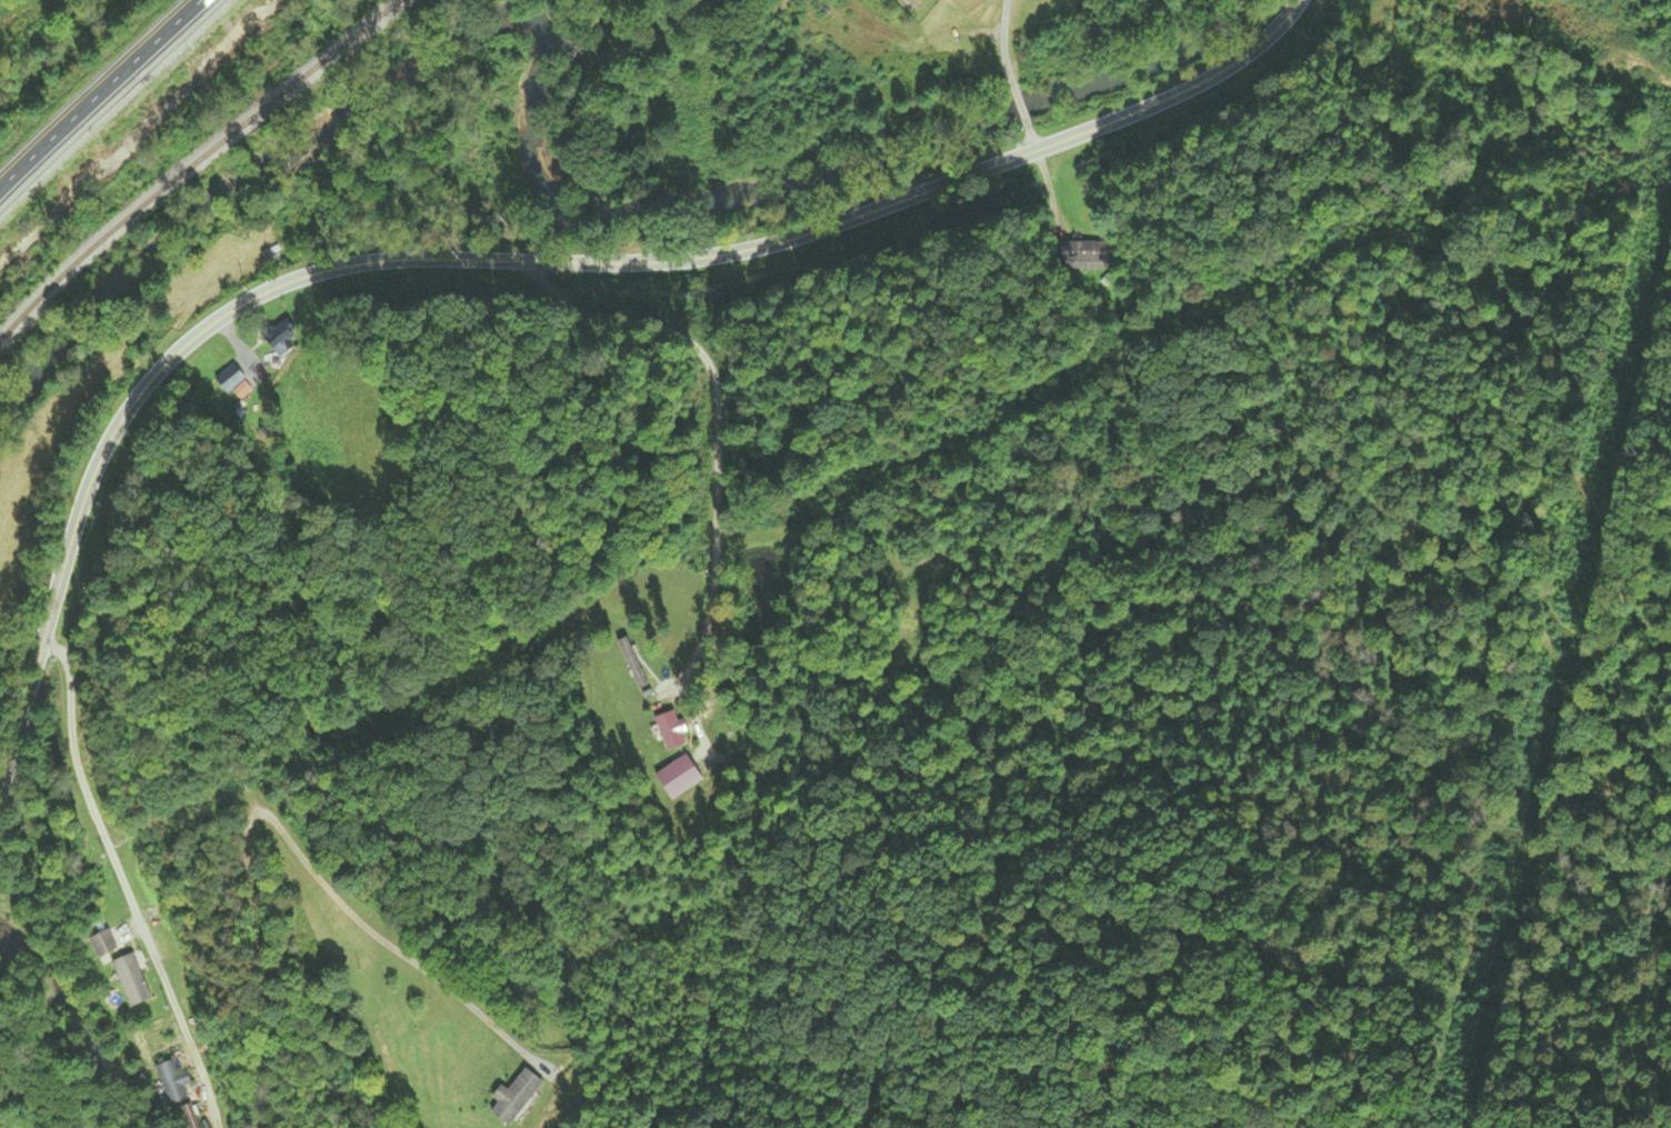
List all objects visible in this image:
road: (1013, 76)
road: (98, 92)
river: (540, 149)
railway: (199, 168)
building: (1091, 256)
road: (590, 260)
building: (280, 338)
building: (233, 381)
road: (710, 418)
building: (630, 665)
road: (21, 726)
building: (669, 731)
building: (677, 779)
road: (272, 828)
road: (131, 888)
building: (102, 945)
river: (64, 1018)
building: (172, 1081)
building: (513, 1097)
building: (189, 1120)

